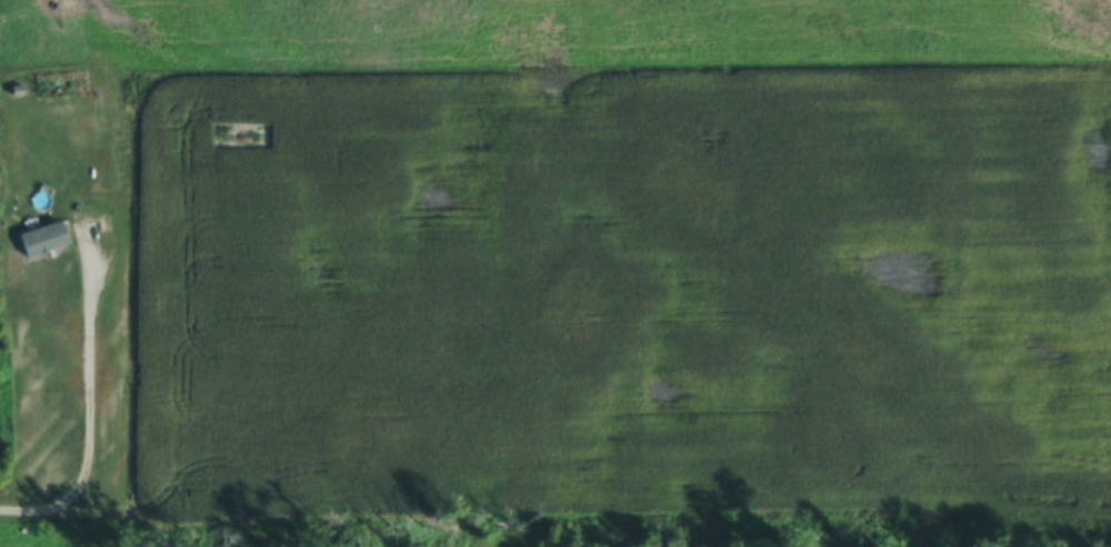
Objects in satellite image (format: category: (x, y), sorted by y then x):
building: (43, 249)
road: (83, 417)

